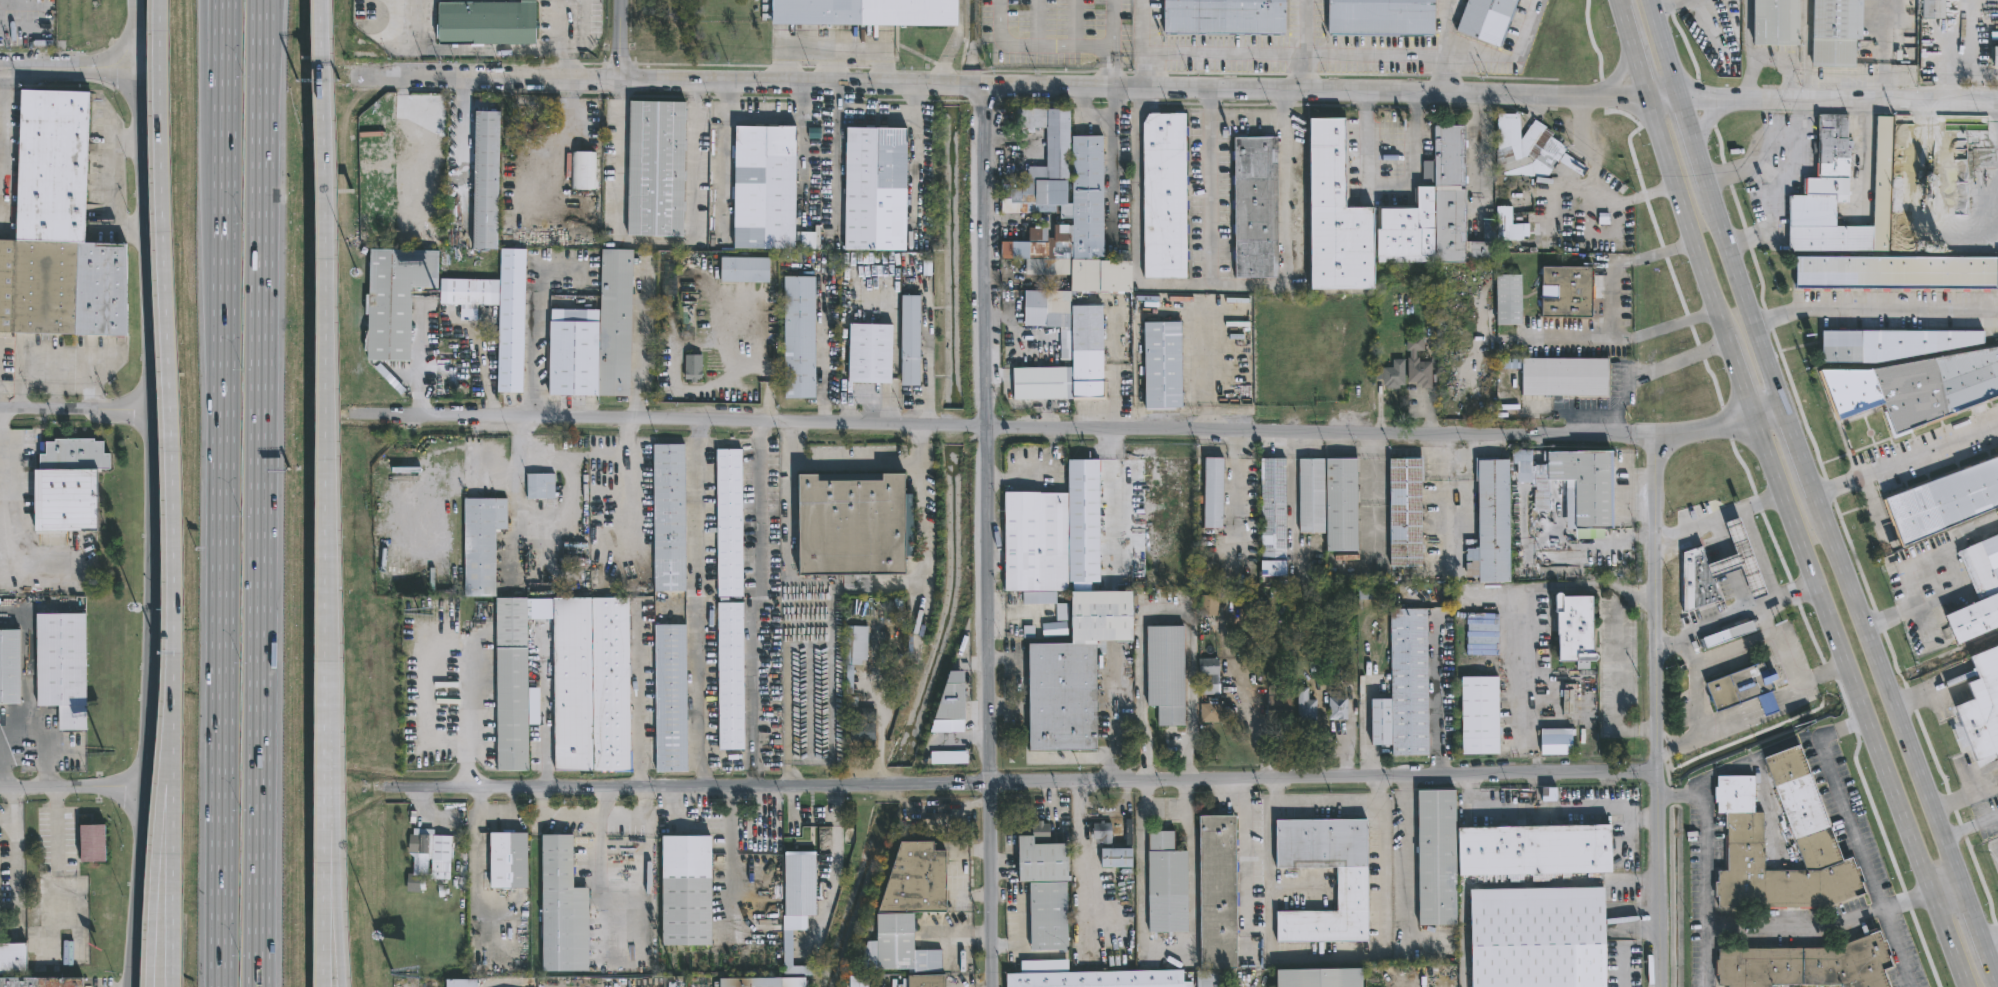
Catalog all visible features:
road: (1619, 4)
road: (1672, 4)
road: (22, 7)
building: (1933, 8)
building: (865, 12)
building: (1222, 15)
building: (1380, 17)
road: (585, 18)
building: (1486, 19)
building: (1775, 22)
building: (489, 23)
road: (220, 30)
road: (560, 31)
road: (1747, 31)
building: (1835, 31)
road: (619, 39)
road: (1591, 39)
road: (1683, 39)
road: (832, 42)
road: (1301, 44)
road: (1445, 45)
road: (1056, 46)
road: (136, 49)
road: (468, 49)
road: (1633, 51)
road: (1333, 53)
building: (1994, 55)
road: (837, 63)
road: (1790, 63)
road: (1103, 67)
road: (68, 69)
road: (1621, 69)
road: (1144, 70)
road: (1750, 79)
road: (999, 85)
road: (1602, 95)
road: (1821, 98)
road: (801, 100)
road: (1699, 107)
road: (801, 118)
road: (1706, 122)
building: (533, 128)
road: (3, 141)
road: (562, 145)
road: (461, 150)
building: (1526, 150)
road: (1111, 156)
road: (723, 158)
road: (836, 159)
road: (913, 161)
building: (583, 168)
building: (658, 169)
building: (484, 179)
road: (1387, 184)
road: (1593, 185)
road: (1212, 186)
road: (1773, 187)
building: (765, 188)
building: (874, 189)
road: (1137, 189)
building: (1837, 193)
building: (1163, 196)
building: (1255, 205)
building: (1065, 209)
building: (1381, 214)
road: (1684, 214)
building: (1503, 226)
building: (63, 232)
building: (1487, 232)
road: (656, 243)
road: (1662, 248)
road: (1287, 251)
road: (1616, 262)
building: (743, 270)
building: (1893, 271)
building: (667, 285)
building: (1565, 291)
building: (469, 292)
building: (1505, 298)
building: (394, 299)
building: (1046, 308)
road: (1874, 308)
building: (511, 320)
building: (615, 322)
road: (536, 326)
road: (893, 327)
road: (1666, 329)
road: (329, 330)
building: (799, 337)
road: (1578, 337)
building: (909, 340)
road: (640, 342)
building: (1064, 343)
building: (1887, 344)
building: (573, 351)
building: (1086, 351)
building: (867, 354)
building: (1414, 361)
road: (56, 365)
building: (1162, 365)
building: (691, 367)
road: (1652, 372)
road: (824, 373)
building: (1395, 374)
road: (1739, 374)
building: (1560, 376)
building: (1041, 383)
building: (1914, 386)
road: (171, 387)
road: (56, 390)
road: (871, 393)
road: (1767, 407)
road: (75, 414)
road: (650, 418)
road: (1726, 424)
road: (953, 425)
road: (1360, 431)
road: (625, 435)
road: (151, 445)
road: (626, 457)
road: (1906, 460)
road: (426, 464)
road: (854, 465)
building: (849, 477)
building: (1574, 484)
building: (74, 486)
building: (541, 486)
building: (1212, 490)
road: (518, 492)
road: (223, 493)
road: (264, 493)
building: (1315, 495)
road: (1815, 495)
road: (1294, 496)
building: (1942, 500)
road: (1762, 502)
building: (1346, 504)
road: (2, 515)
building: (668, 517)
building: (1273, 517)
building: (1404, 517)
building: (1082, 519)
building: (726, 523)
building: (1489, 523)
building: (851, 526)
road: (1694, 526)
road: (1846, 533)
road: (988, 536)
building: (1034, 540)
building: (481, 543)
road: (1586, 543)
road: (1757, 556)
building: (1738, 560)
road: (1906, 568)
building: (1701, 582)
road: (849, 590)
building: (1975, 591)
building: (1372, 592)
road: (1635, 594)
road: (697, 604)
road: (757, 605)
building: (1208, 605)
road: (1745, 611)
road: (1166, 614)
road: (1765, 620)
building: (1574, 628)
building: (1056, 629)
building: (1728, 635)
building: (1481, 637)
road: (1531, 637)
building: (856, 643)
road: (1667, 645)
road: (1727, 650)
road: (1687, 653)
road: (973, 660)
building: (10, 666)
building: (63, 667)
building: (1071, 671)
building: (1165, 673)
road: (1821, 674)
building: (1210, 676)
building: (729, 677)
building: (1408, 682)
road: (432, 683)
road: (1615, 683)
building: (511, 684)
building: (590, 684)
building: (872, 685)
building: (1740, 689)
building: (950, 696)
road: (1789, 696)
building: (670, 697)
road: (640, 701)
road: (1859, 701)
building: (1279, 704)
building: (1983, 704)
road: (543, 705)
building: (1305, 705)
building: (1336, 706)
road: (1847, 709)
building: (1212, 710)
road: (1656, 710)
road: (1767, 710)
building: (1478, 715)
building: (1380, 721)
building: (861, 725)
road: (1727, 725)
road: (1845, 728)
road: (963, 738)
building: (1554, 741)
road: (42, 743)
road: (1677, 743)
road: (326, 744)
road: (1754, 756)
road: (0, 781)
road: (1012, 783)
road: (1274, 789)
road: (73, 793)
road: (1678, 796)
road: (1078, 799)
road: (601, 804)
road: (1165, 804)
road: (792, 807)
road: (1548, 809)
road: (166, 814)
road: (595, 818)
road: (500, 820)
road: (6, 821)
road: (1970, 826)
road: (55, 828)
building: (1104, 833)
building: (1808, 838)
building: (94, 843)
road: (13, 850)
road: (836, 851)
building: (1495, 853)
road: (474, 856)
building: (429, 857)
building: (1046, 858)
building: (1120, 858)
road: (1244, 858)
building: (510, 860)
road: (730, 860)
road: (1864, 861)
road: (1404, 864)
road: (333, 871)
road: (649, 872)
road: (957, 873)
road: (1083, 879)
road: (173, 881)
road: (602, 884)
building: (1170, 884)
building: (802, 885)
building: (1350, 889)
road: (1706, 889)
road: (1945, 889)
road: (139, 890)
building: (683, 890)
building: (1217, 890)
road: (325, 907)
building: (559, 909)
building: (908, 910)
building: (1052, 916)
road: (153, 919)
road: (1019, 921)
road: (1637, 922)
road: (1820, 927)
road: (962, 937)
building: (1531, 937)
road: (1990, 939)
road: (1245, 946)
building: (786, 947)
road: (1170, 949)
road: (341, 951)
road: (1279, 953)
building: (13, 959)
building: (1803, 965)
road: (1616, 974)
building: (1213, 978)
building: (1325, 978)
building: (1103, 979)
building: (929, 981)
building: (40, 982)
building: (627, 982)
building: (761, 982)
building: (858, 982)
building: (457, 983)

